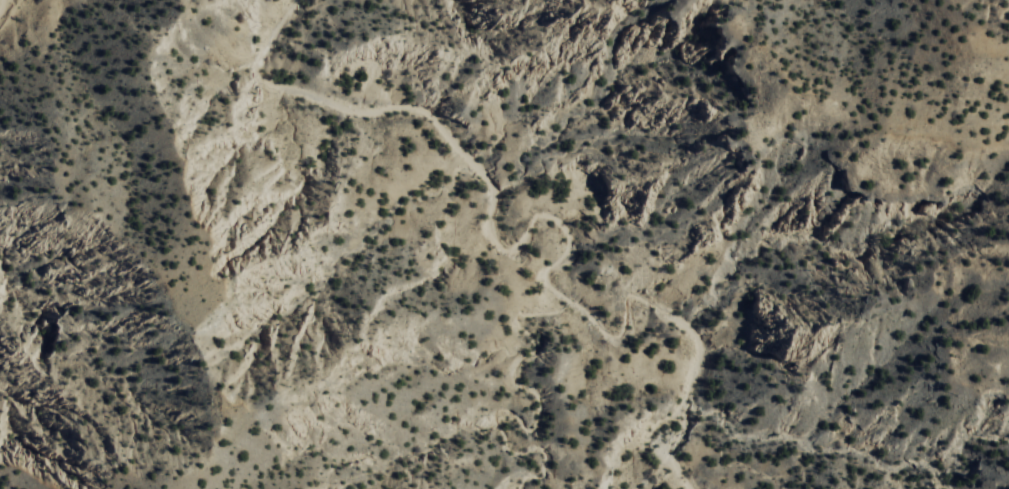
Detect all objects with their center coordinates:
road: (6, 8)

